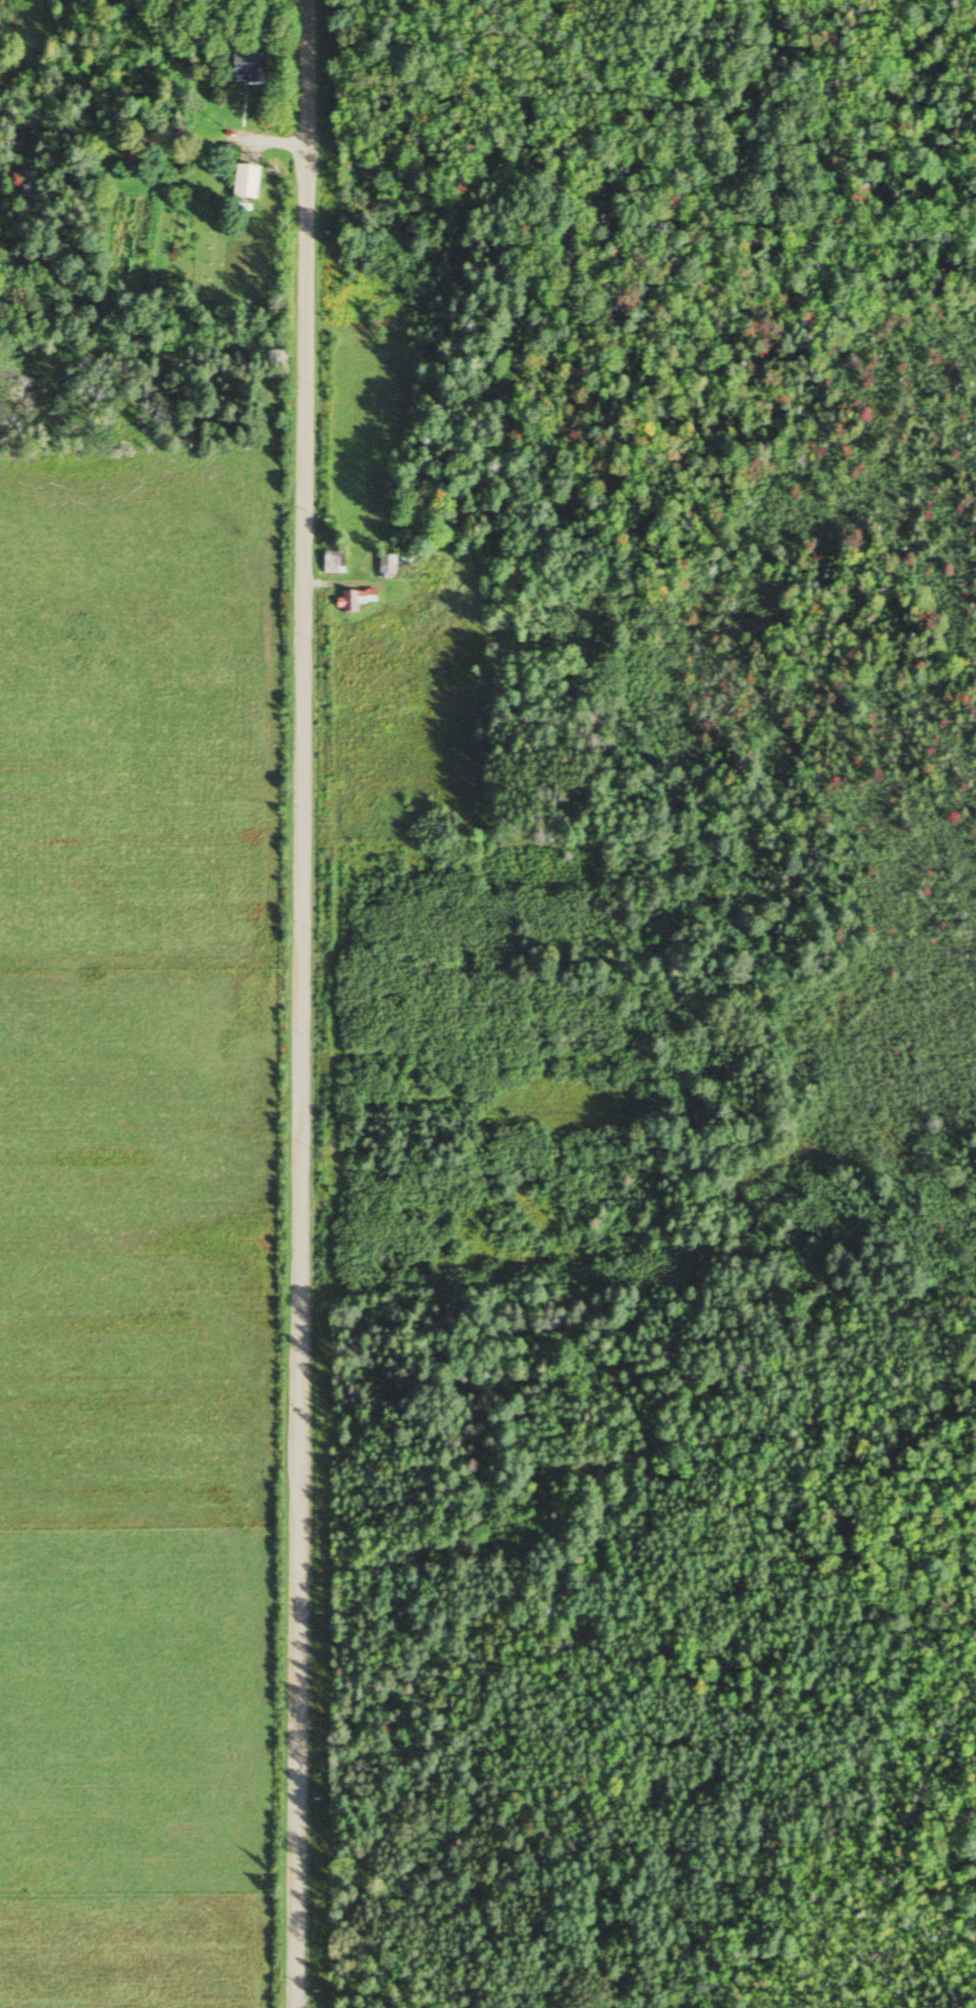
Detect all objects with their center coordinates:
building: (247, 69)
building: (244, 183)
building: (332, 562)
building: (385, 566)
building: (352, 600)
road: (306, 1003)

